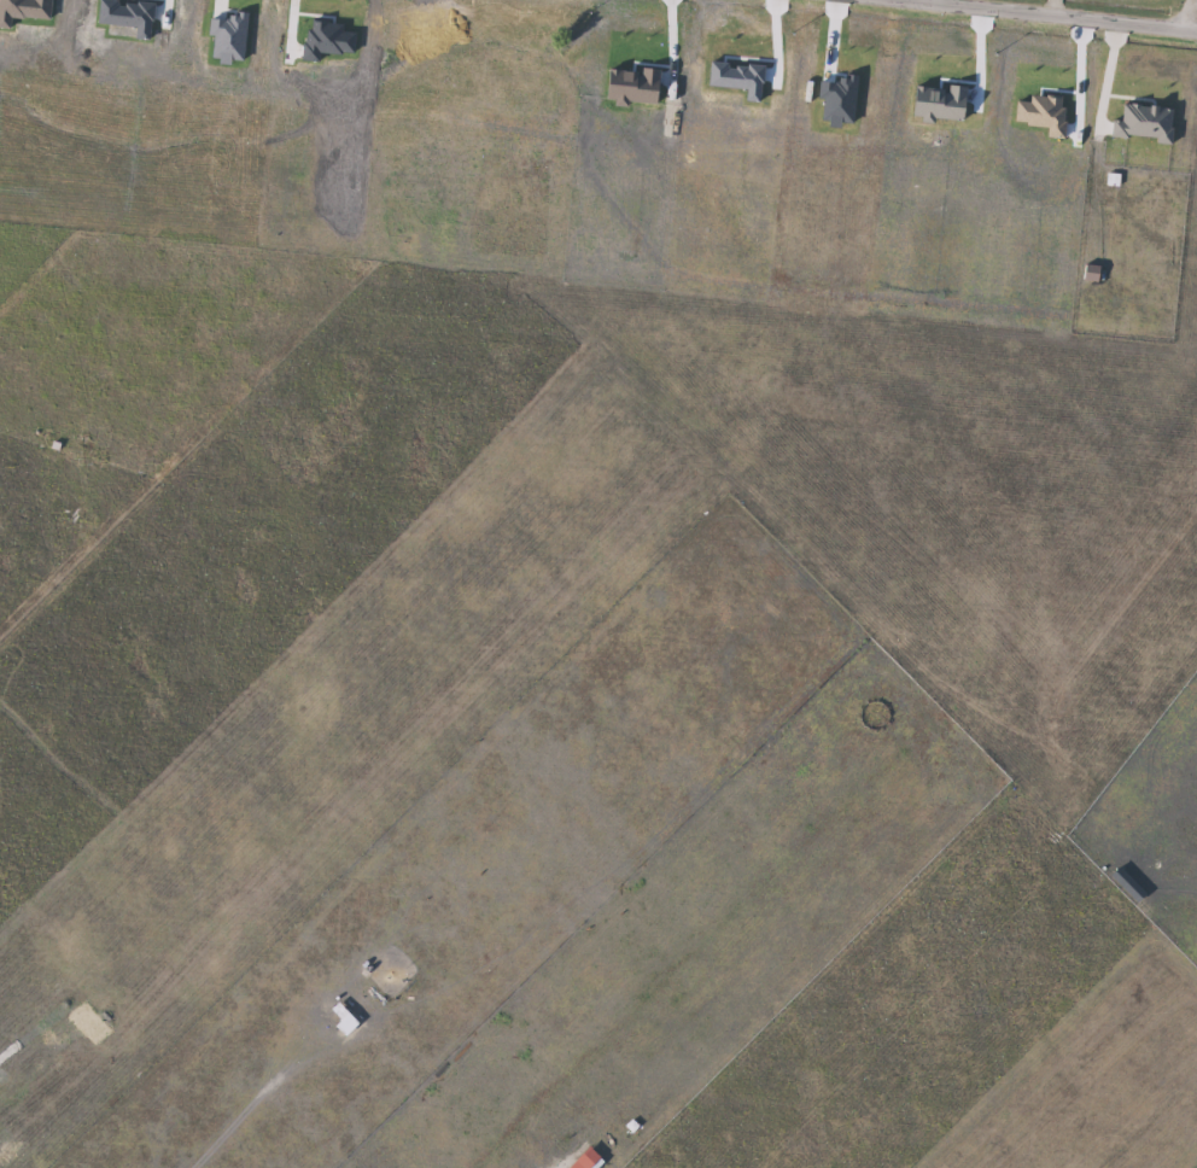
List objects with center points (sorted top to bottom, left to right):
road: (1016, 18)
road: (1181, 19)
building: (111, 535)
building: (790, 679)
building: (204, 816)
building: (717, 833)

